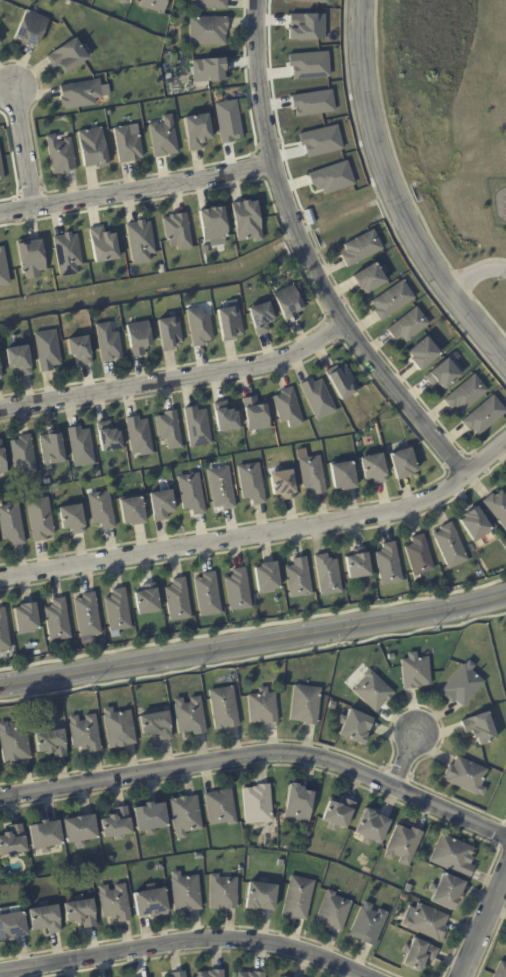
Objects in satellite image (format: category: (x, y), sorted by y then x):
building: (319, 0)
building: (125, 1)
building: (154, 4)
building: (212, 4)
building: (306, 26)
building: (28, 27)
building: (208, 30)
building: (0, 42)
building: (67, 56)
building: (307, 64)
building: (207, 69)
building: (80, 93)
building: (312, 102)
building: (227, 120)
building: (197, 131)
building: (164, 137)
building: (319, 140)
building: (128, 143)
road: (25, 147)
building: (93, 147)
building: (61, 155)
building: (1, 171)
building: (331, 176)
road: (137, 192)
road: (394, 197)
building: (310, 217)
building: (248, 220)
building: (214, 223)
building: (178, 230)
building: (141, 241)
building: (103, 245)
building: (362, 248)
building: (68, 254)
building: (31, 256)
road: (307, 260)
building: (2, 268)
road: (475, 275)
building: (372, 277)
building: (393, 300)
building: (287, 302)
building: (259, 316)
building: (229, 323)
building: (409, 325)
building: (200, 326)
building: (169, 333)
building: (139, 338)
building: (108, 342)
building: (47, 350)
building: (81, 350)
building: (424, 353)
building: (19, 360)
building: (444, 374)
building: (0, 376)
road: (176, 378)
building: (342, 382)
building: (467, 393)
building: (318, 398)
building: (288, 408)
building: (256, 414)
building: (484, 416)
building: (225, 418)
building: (167, 427)
building: (198, 427)
building: (139, 436)
building: (109, 437)
building: (354, 437)
building: (50, 447)
building: (81, 447)
building: (20, 453)
building: (2, 462)
building: (403, 463)
building: (374, 469)
building: (313, 475)
building: (343, 475)
building: (252, 483)
building: (283, 485)
building: (222, 488)
building: (192, 494)
building: (162, 506)
building: (497, 507)
building: (101, 510)
building: (133, 512)
building: (40, 519)
building: (73, 519)
building: (11, 524)
building: (475, 525)
road: (262, 534)
building: (451, 546)
building: (420, 556)
building: (358, 564)
building: (389, 565)
building: (328, 576)
building: (267, 578)
building: (299, 579)
building: (238, 590)
building: (208, 595)
building: (148, 600)
building: (178, 600)
building: (118, 611)
building: (88, 618)
building: (26, 619)
building: (58, 621)
building: (4, 632)
road: (253, 639)
park: (499, 642)
building: (416, 672)
building: (462, 685)
building: (374, 691)
building: (305, 705)
building: (332, 706)
building: (263, 708)
building: (224, 709)
building: (189, 717)
building: (157, 724)
building: (354, 727)
building: (481, 728)
building: (119, 729)
building: (85, 734)
building: (51, 742)
building: (14, 746)
road: (259, 756)
road: (405, 759)
building: (467, 777)
park: (500, 798)
building: (299, 802)
building: (258, 803)
building: (221, 807)
building: (339, 814)
building: (185, 815)
building: (151, 816)
building: (117, 823)
building: (373, 827)
building: (80, 828)
building: (306, 833)
building: (43, 834)
building: (12, 840)
building: (405, 844)
building: (454, 855)
building: (281, 862)
building: (241, 868)
building: (408, 888)
building: (186, 891)
building: (447, 891)
building: (223, 892)
building: (395, 893)
building: (262, 895)
building: (299, 897)
building: (404, 897)
building: (115, 902)
building: (151, 902)
building: (81, 911)
building: (334, 911)
building: (45, 917)
building: (427, 921)
road: (481, 923)
building: (369, 924)
building: (12, 925)
road: (183, 943)
building: (419, 955)
building: (501, 970)
building: (211, 973)
building: (179, 974)
building: (251, 974)
building: (285, 976)

